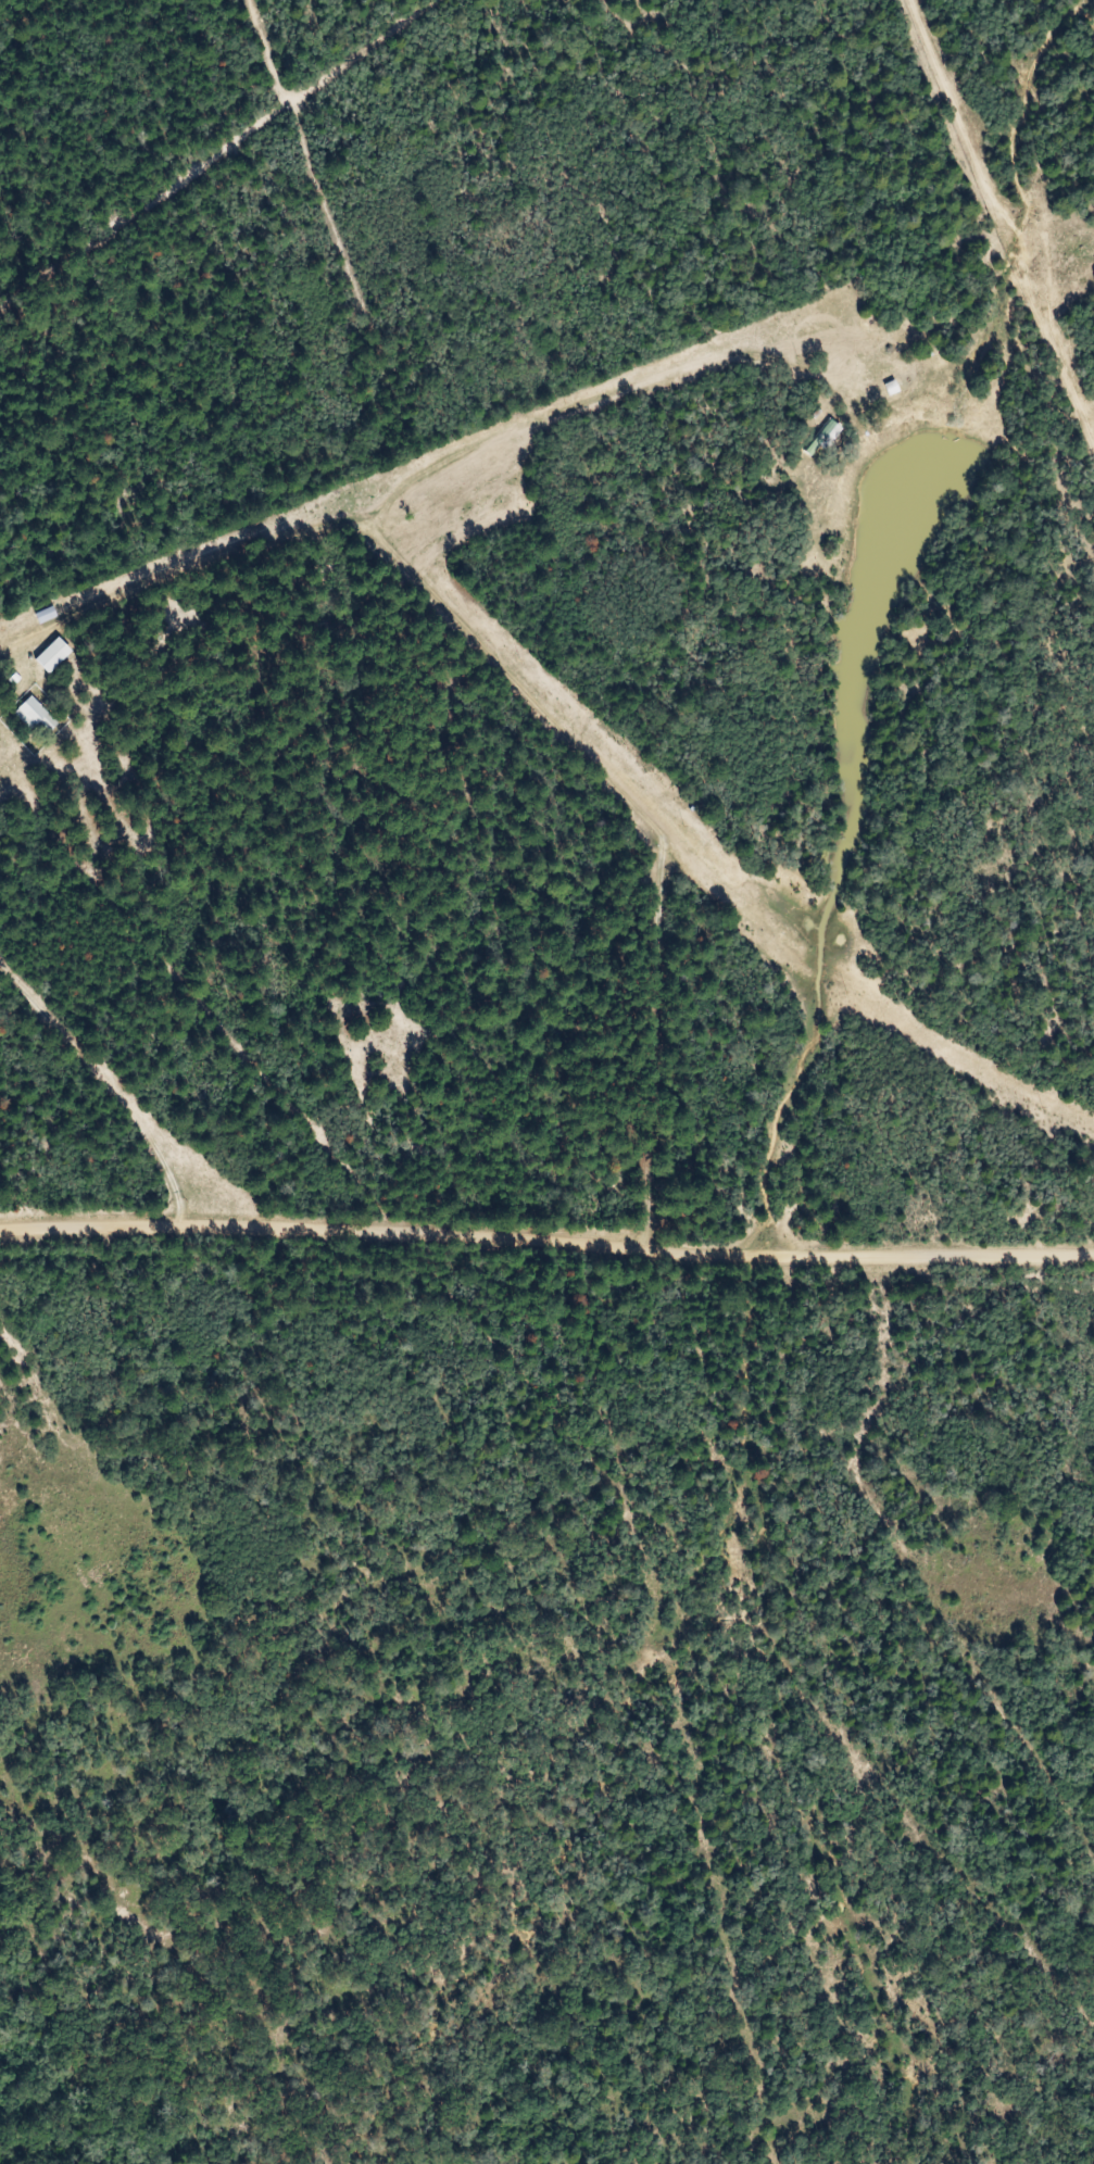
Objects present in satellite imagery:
building: (816, 439)
building: (37, 615)
building: (43, 654)
building: (25, 714)
road: (139, 1224)

